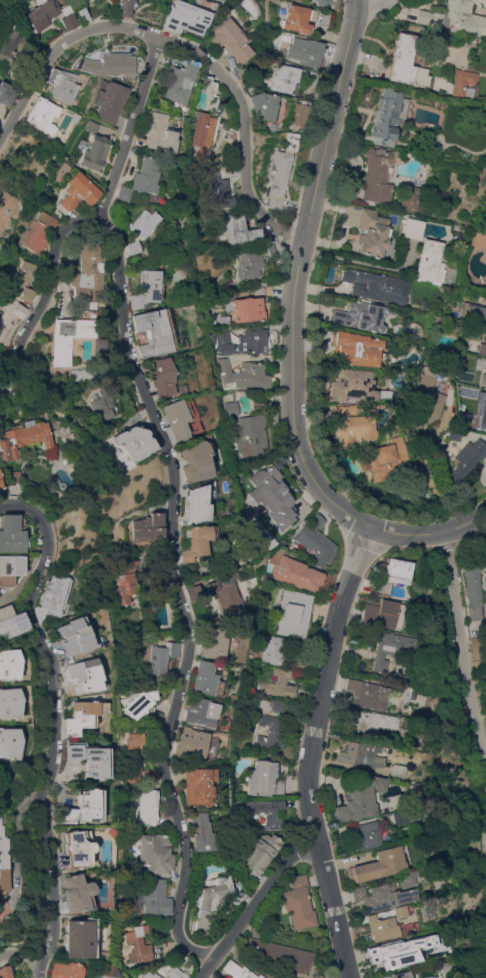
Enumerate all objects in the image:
building: (83, 0)
building: (88, 0)
building: (311, 0)
building: (321, 1)
building: (124, 7)
building: (49, 14)
building: (82, 14)
building: (456, 16)
building: (297, 18)
building: (322, 18)
building: (185, 19)
building: (229, 40)
building: (10, 43)
road: (57, 50)
building: (305, 51)
building: (405, 62)
building: (107, 64)
building: (310, 78)
building: (285, 79)
building: (177, 82)
building: (464, 83)
building: (60, 85)
building: (6, 95)
building: (105, 101)
building: (263, 104)
building: (299, 114)
building: (40, 115)
building: (201, 116)
building: (387, 116)
building: (72, 117)
building: (484, 119)
building: (86, 126)
road: (333, 128)
road: (127, 129)
building: (153, 133)
road: (246, 135)
building: (291, 141)
building: (88, 152)
building: (379, 173)
building: (0, 176)
building: (135, 179)
building: (278, 179)
building: (221, 189)
building: (71, 193)
building: (410, 199)
building: (6, 209)
building: (138, 222)
building: (239, 229)
building: (412, 229)
building: (33, 232)
building: (372, 233)
building: (477, 239)
building: (128, 247)
building: (268, 250)
road: (355, 261)
building: (430, 261)
building: (248, 262)
building: (82, 272)
building: (22, 280)
building: (376, 286)
building: (263, 287)
building: (145, 288)
road: (47, 294)
building: (245, 309)
building: (473, 312)
building: (10, 316)
building: (360, 316)
building: (436, 321)
building: (153, 332)
building: (66, 337)
building: (242, 341)
building: (356, 348)
building: (481, 348)
building: (482, 373)
building: (80, 374)
building: (243, 374)
building: (161, 376)
building: (351, 385)
building: (12, 398)
building: (259, 399)
building: (424, 401)
building: (102, 404)
road: (297, 407)
building: (230, 408)
building: (483, 410)
building: (181, 418)
building: (464, 422)
building: (485, 423)
building: (352, 425)
building: (393, 427)
building: (454, 434)
building: (22, 437)
building: (249, 437)
building: (134, 441)
building: (383, 458)
building: (199, 459)
building: (466, 460)
building: (8, 478)
building: (269, 493)
building: (196, 505)
building: (316, 520)
building: (147, 527)
building: (10, 534)
road: (430, 535)
building: (198, 541)
building: (315, 545)
building: (10, 568)
building: (296, 573)
building: (127, 575)
building: (391, 575)
building: (474, 578)
building: (158, 586)
building: (193, 592)
building: (225, 592)
building: (55, 594)
road: (179, 599)
building: (293, 613)
building: (383, 614)
building: (10, 622)
building: (77, 636)
building: (212, 641)
building: (273, 650)
building: (390, 650)
building: (161, 659)
road: (463, 662)
building: (9, 664)
building: (84, 675)
building: (205, 677)
building: (278, 684)
building: (369, 694)
building: (9, 703)
building: (137, 703)
building: (277, 705)
building: (201, 711)
building: (82, 716)
road: (54, 722)
building: (363, 722)
building: (270, 733)
building: (9, 743)
building: (191, 745)
road: (311, 752)
building: (360, 754)
building: (90, 757)
building: (129, 757)
building: (398, 771)
building: (262, 778)
building: (199, 786)
building: (413, 788)
building: (359, 797)
building: (417, 799)
building: (148, 806)
building: (81, 807)
building: (263, 812)
building: (400, 817)
building: (112, 832)
building: (203, 833)
building: (366, 835)
building: (78, 847)
building: (155, 853)
building: (260, 854)
building: (3, 863)
building: (378, 865)
building: (408, 878)
building: (78, 893)
building: (383, 896)
building: (155, 897)
building: (211, 900)
road: (260, 902)
building: (299, 903)
building: (401, 911)
building: (383, 927)
building: (80, 937)
building: (138, 943)
road: (21, 951)
building: (401, 951)
building: (103, 954)
building: (277, 955)
building: (447, 966)
building: (109, 969)
building: (66, 970)
building: (6, 971)
building: (239, 971)
building: (173, 972)
building: (150, 974)
building: (398, 975)
building: (452, 977)

